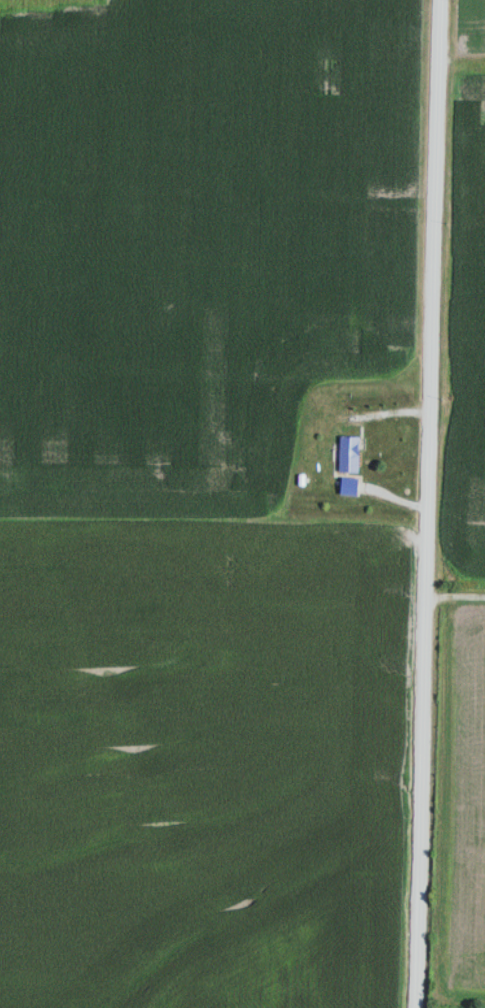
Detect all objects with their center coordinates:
crop: (473, 39)
crop: (195, 242)
crop: (470, 355)
building: (352, 455)
building: (352, 487)
road: (428, 503)
crop: (189, 736)
crop: (464, 812)
crop: (304, 953)
crop: (461, 1005)

